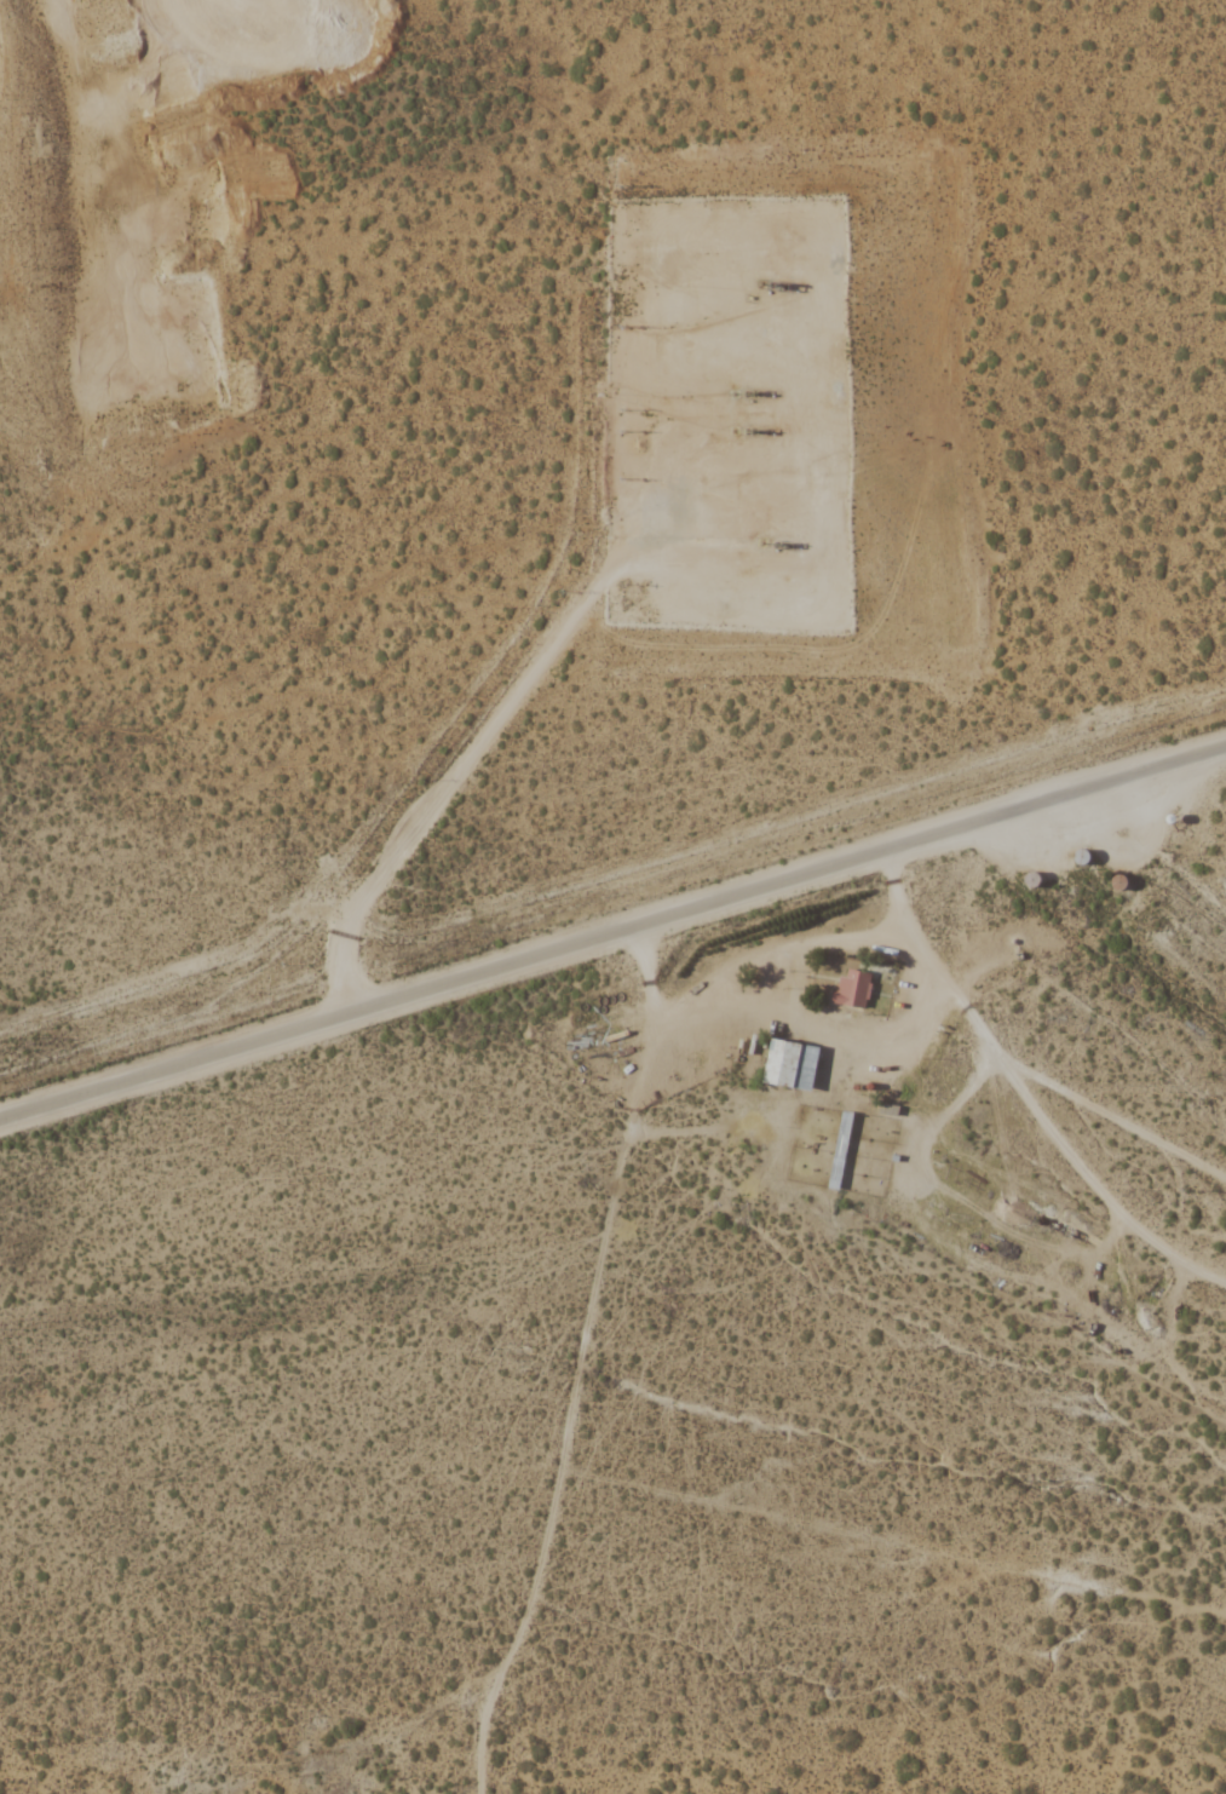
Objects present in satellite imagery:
road: (564, 632)
road: (612, 941)
road: (965, 1094)
road: (1077, 1108)
road: (583, 1367)

